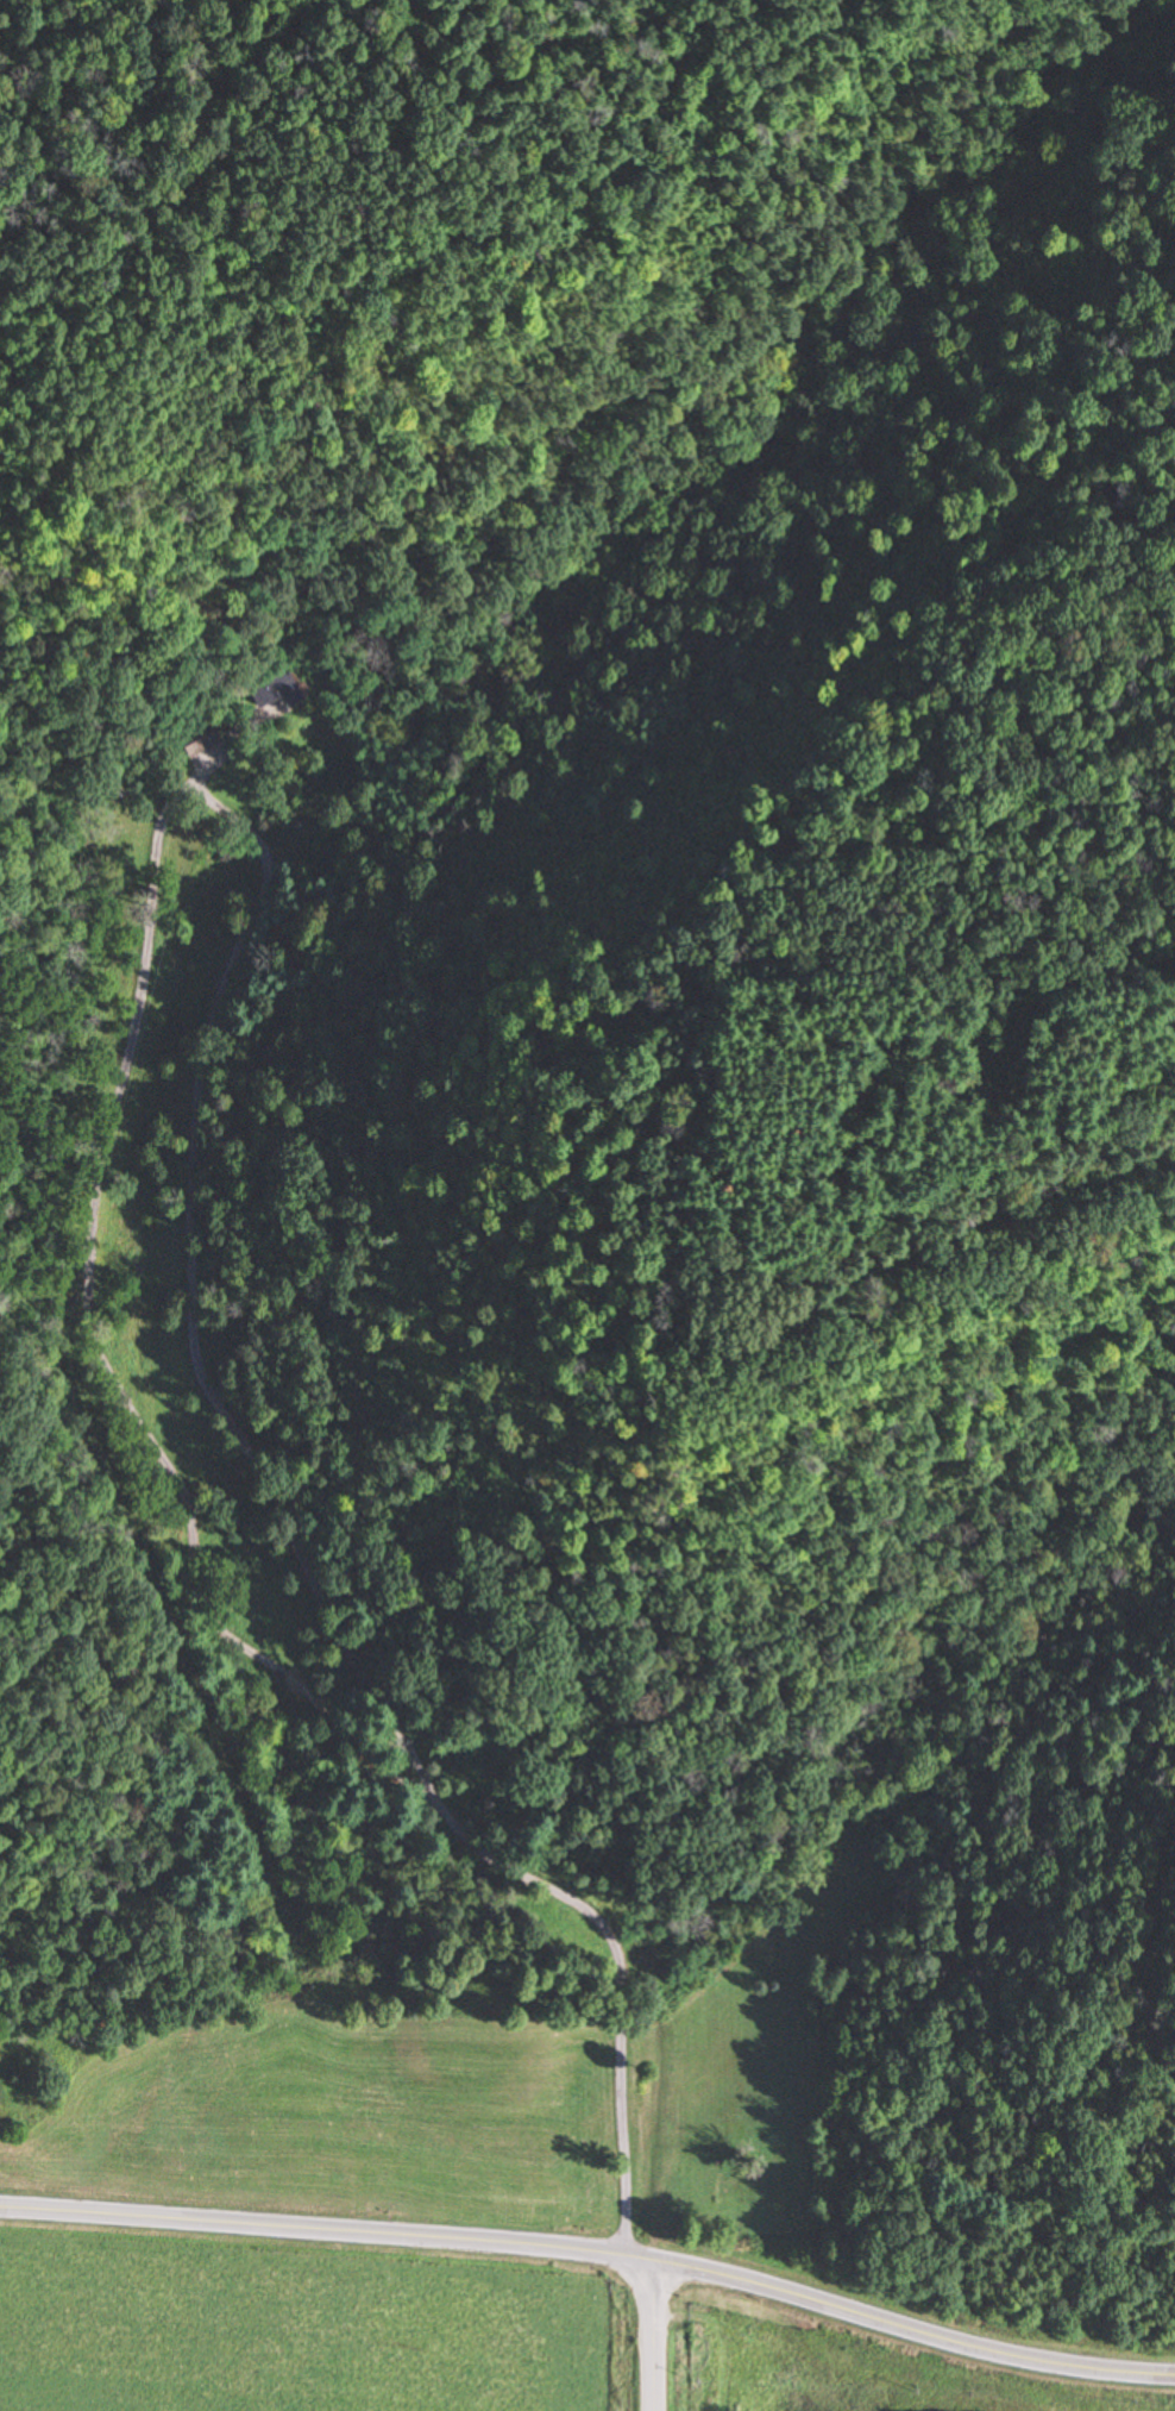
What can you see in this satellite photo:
building: (202, 738)
road: (307, 1585)
road: (593, 2252)
road: (653, 2336)

